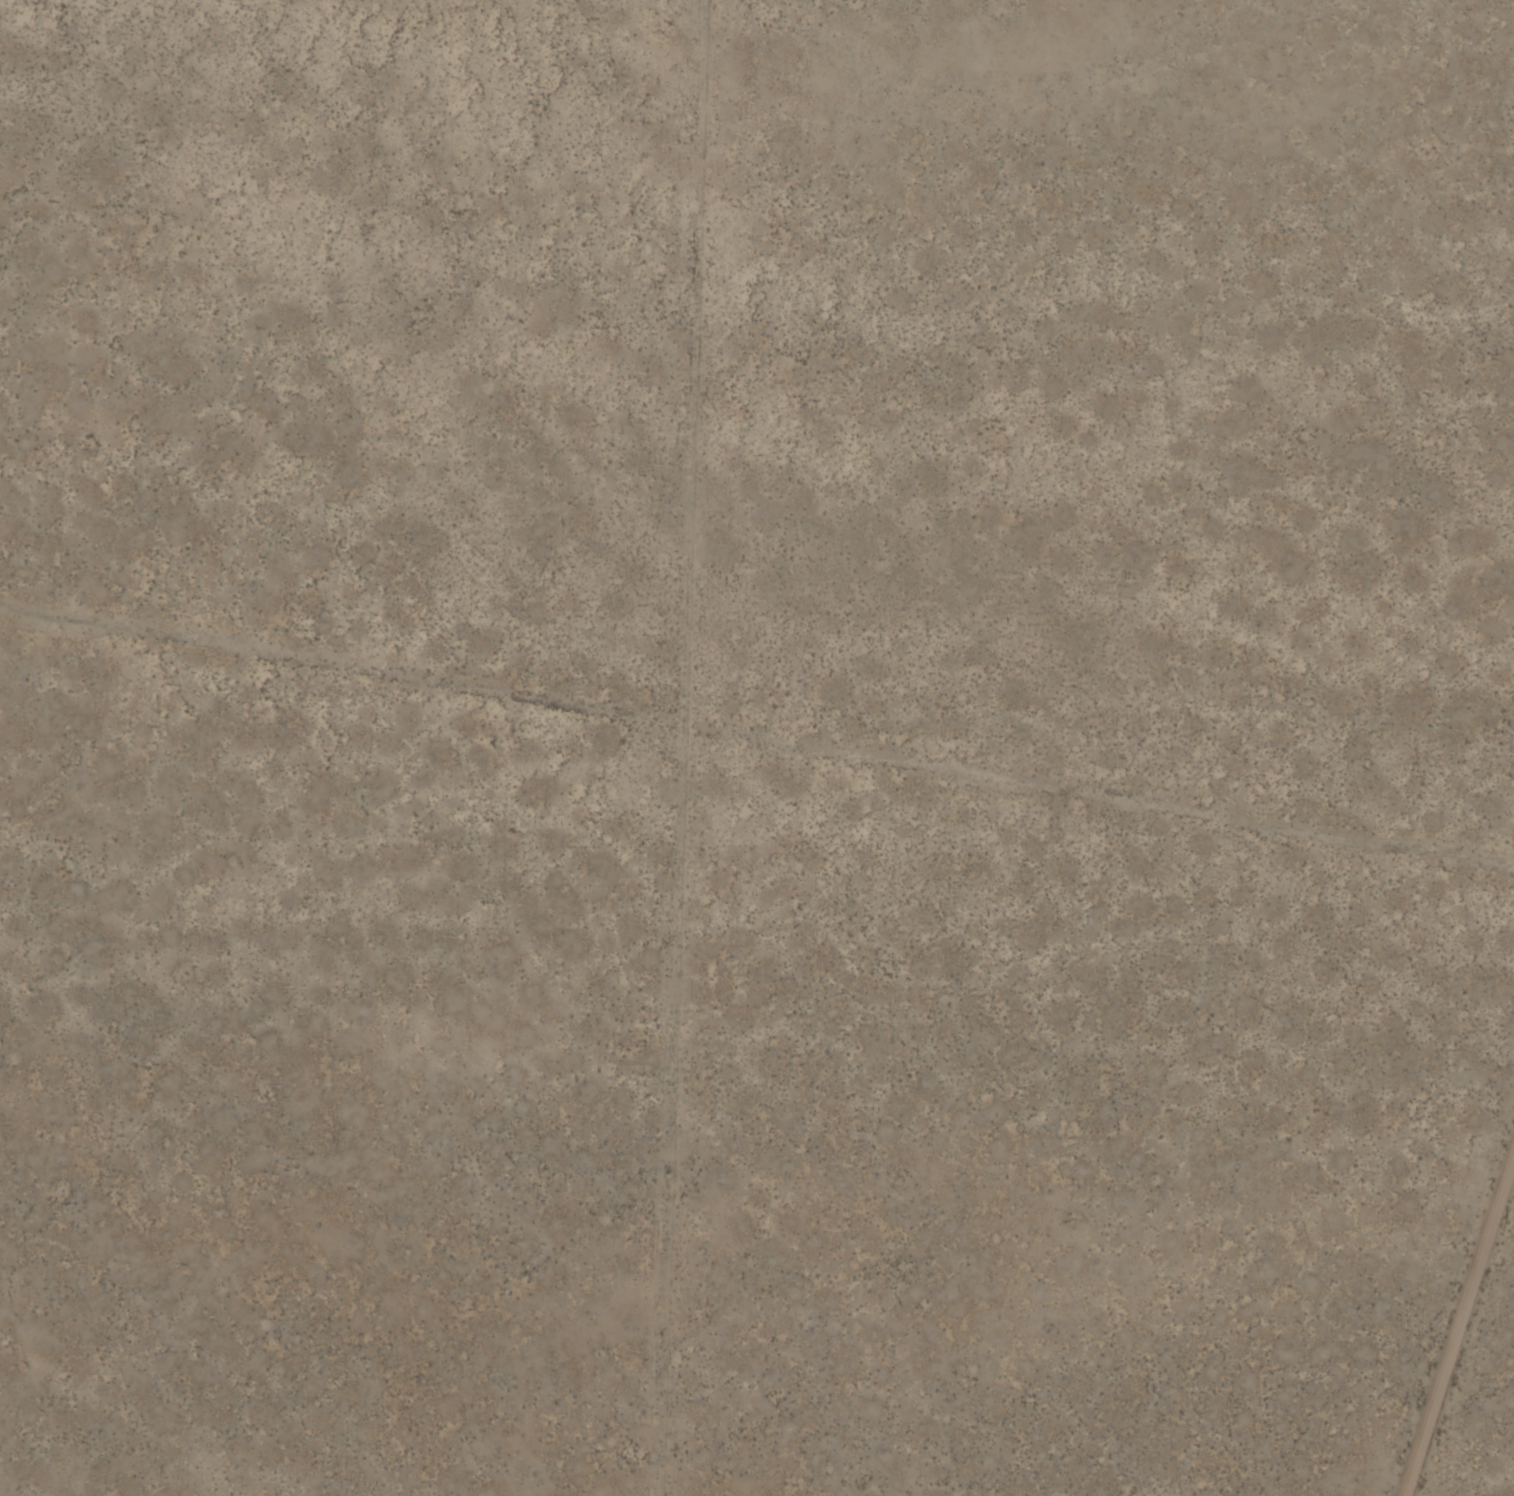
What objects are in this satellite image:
road: (1459, 1329)

